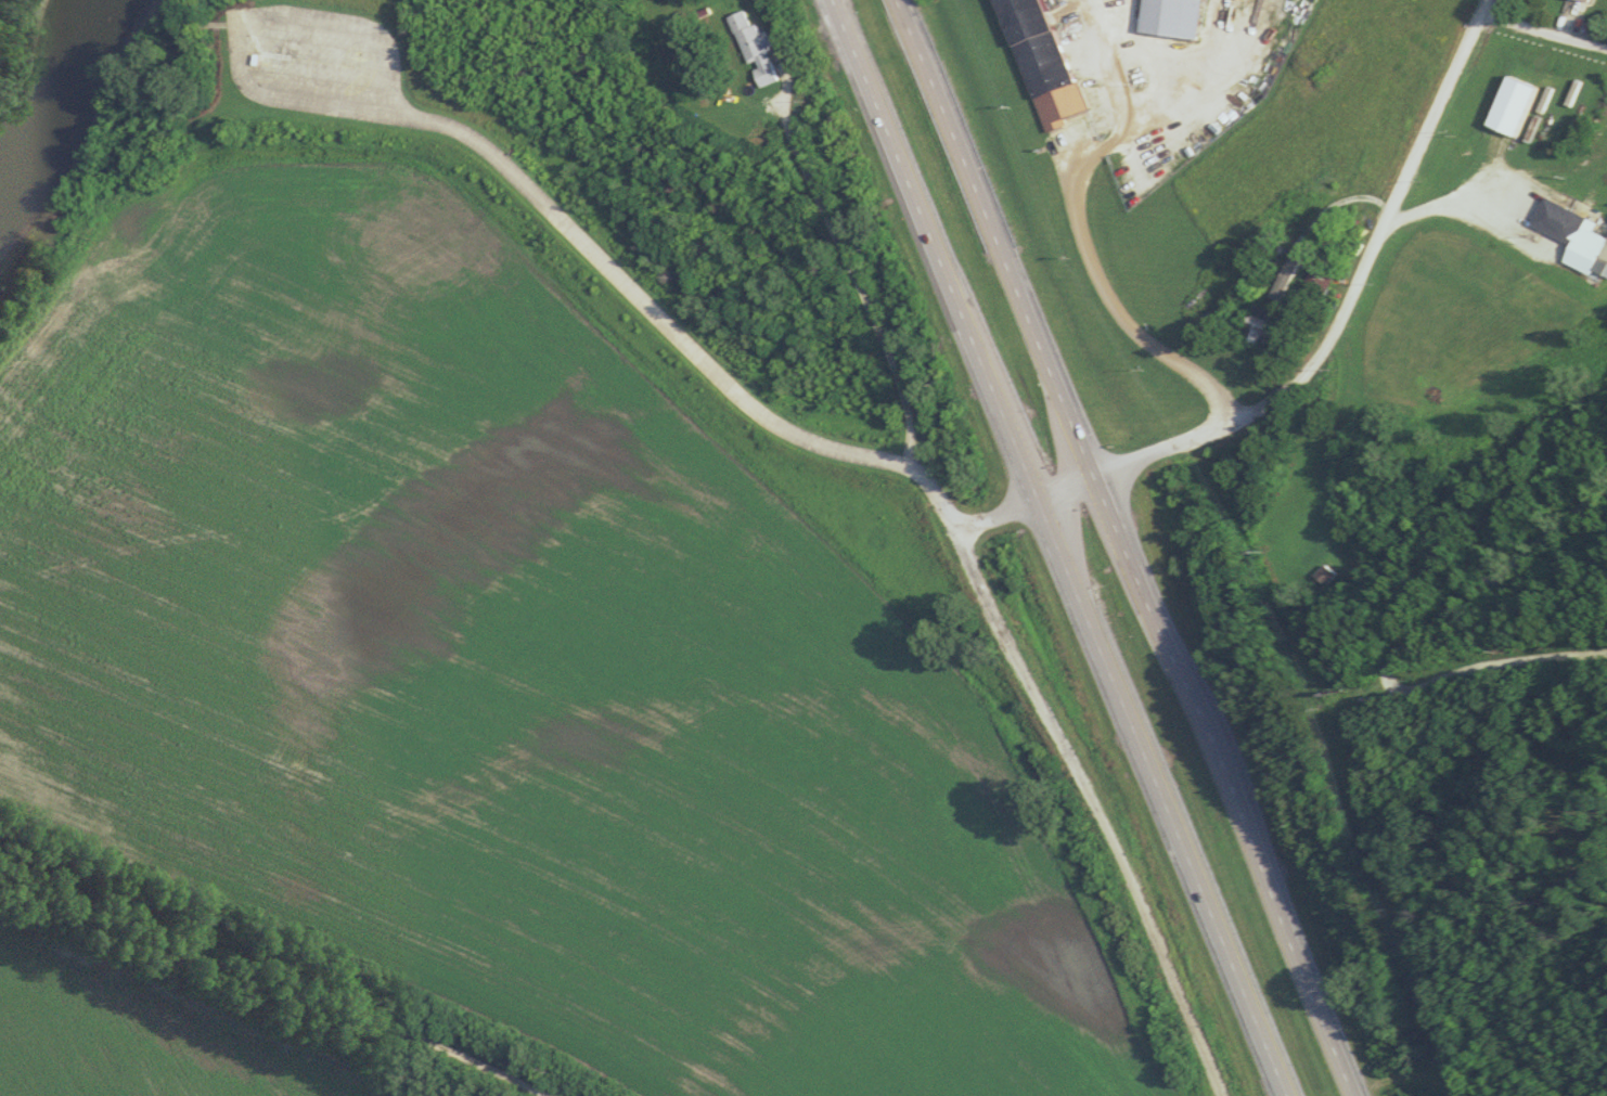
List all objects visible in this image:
building: (1198, 0)
building: (1578, 1)
road: (1543, 25)
road: (242, 27)
building: (757, 56)
building: (1039, 62)
building: (1238, 77)
river: (54, 105)
building: (1508, 108)
building: (1554, 223)
road: (1080, 224)
building: (1599, 262)
building: (1316, 276)
road: (1342, 291)
road: (864, 301)
building: (1255, 326)
road: (723, 383)
road: (1057, 549)
road: (1121, 550)
building: (1320, 576)
road: (1401, 641)
crop: (517, 668)
road: (277, 976)
crop: (145, 1031)
crop: (1428, 1088)

